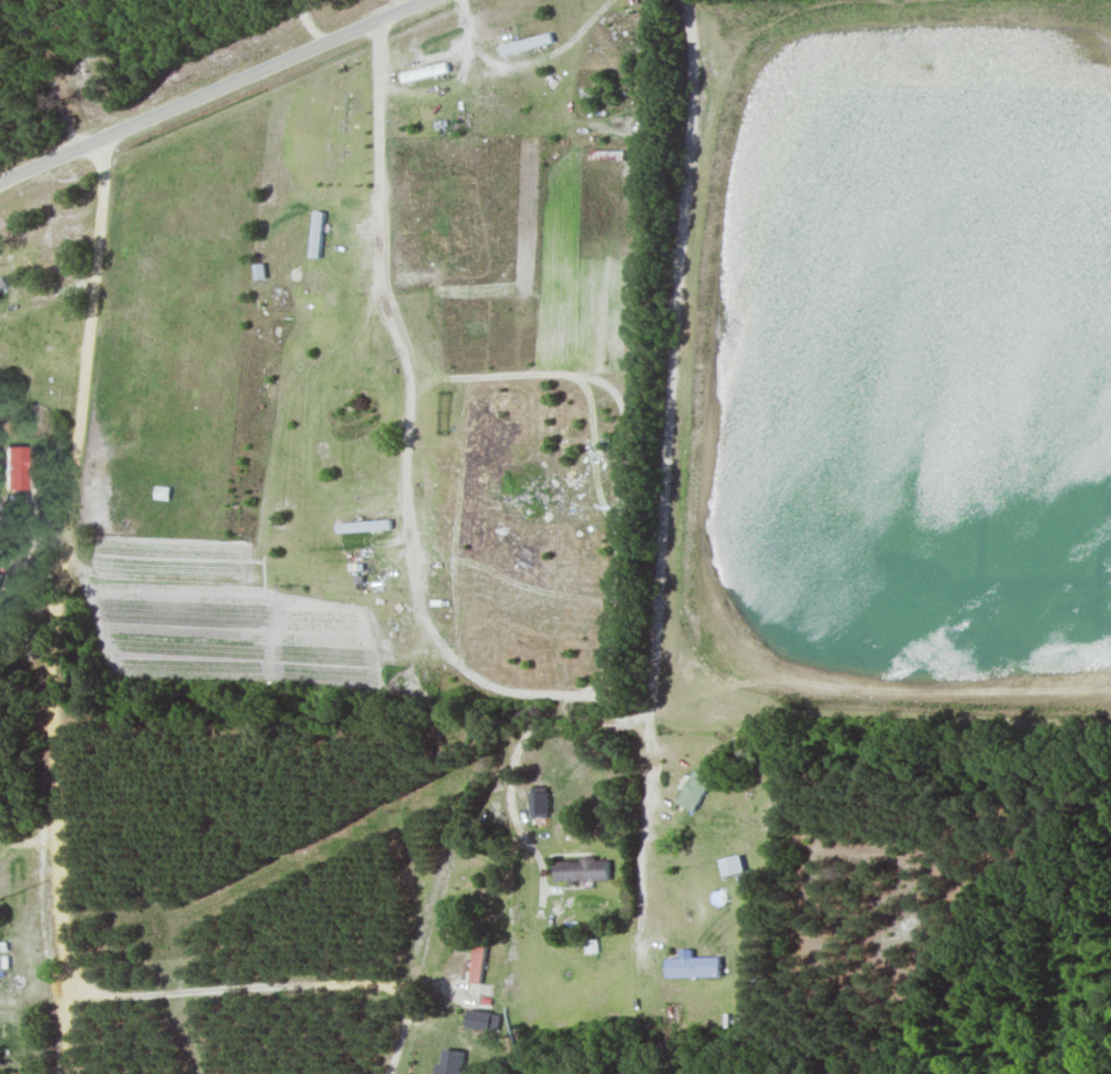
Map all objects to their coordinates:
building: (624, 20)
building: (526, 44)
building: (424, 72)
road: (209, 87)
building: (415, 134)
road: (385, 187)
building: (4, 277)
building: (443, 307)
road: (675, 353)
building: (15, 468)
building: (162, 493)
building: (363, 526)
road: (50, 605)
building: (694, 791)
building: (538, 803)
building: (731, 865)
building: (581, 870)
building: (692, 967)
building: (482, 1020)
building: (459, 1063)
building: (24, 1073)

